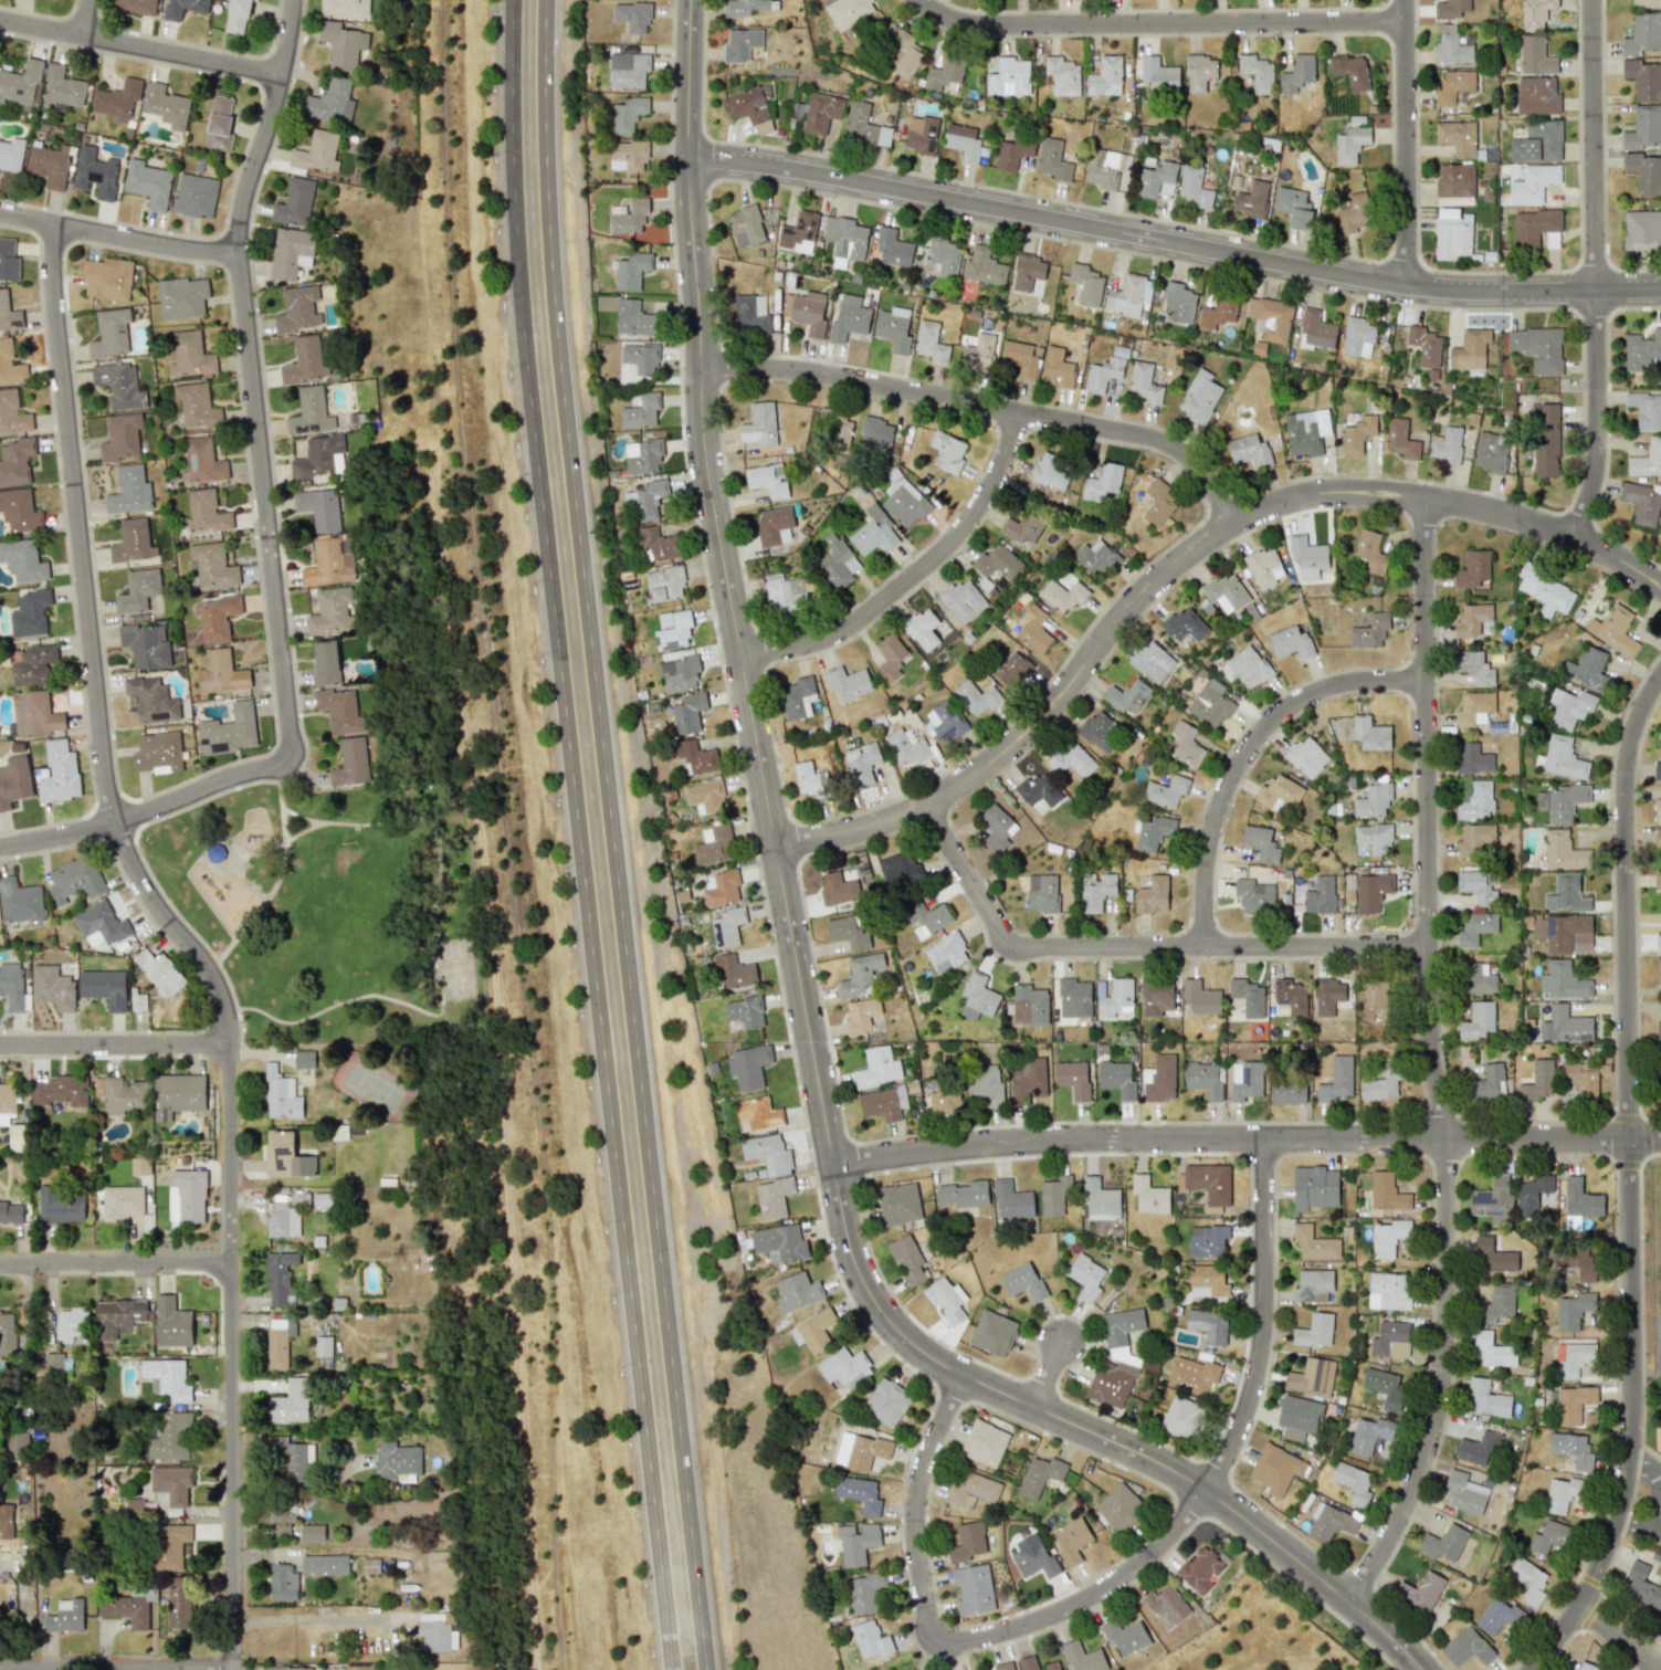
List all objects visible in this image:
building: (1647, 3)
building: (136, 6)
building: (345, 7)
building: (744, 7)
building: (183, 8)
building: (1451, 9)
building: (1536, 12)
building: (238, 15)
building: (632, 15)
road: (82, 18)
road: (1160, 22)
building: (1643, 33)
building: (341, 44)
building: (740, 44)
road: (139, 46)
building: (1451, 46)
building: (905, 55)
building: (1535, 55)
building: (1350, 71)
building: (630, 72)
building: (1199, 72)
building: (1257, 72)
building: (1297, 73)
building: (945, 74)
building: (1158, 74)
building: (1062, 75)
building: (1009, 77)
building: (1105, 77)
building: (1644, 80)
building: (21, 83)
building: (1454, 87)
building: (62, 88)
building: (1537, 95)
building: (117, 99)
building: (330, 101)
building: (165, 105)
building: (749, 108)
building: (821, 112)
building: (625, 115)
building: (219, 124)
building: (864, 126)
rooftop solar panel: (932, 128)
building: (1643, 128)
building: (921, 134)
building: (1457, 137)
building: (963, 141)
building: (1538, 141)
road: (1409, 143)
rooftop solar panel: (932, 144)
building: (1350, 144)
building: (317, 151)
building: (11, 154)
building: (628, 156)
building: (1053, 160)
building: (50, 165)
building: (1102, 168)
building: (96, 172)
building: (1644, 172)
building: (1155, 178)
building: (148, 183)
building: (1534, 183)
building: (1455, 185)
building: (1195, 187)
building: (195, 196)
building: (1252, 199)
building: (294, 202)
building: (1295, 206)
building: (1354, 213)
building: (630, 217)
building: (746, 225)
building: (1536, 229)
building: (1641, 230)
building: (799, 232)
road: (118, 233)
building: (1452, 233)
building: (845, 239)
road: (1174, 241)
building: (893, 248)
building: (291, 252)
building: (943, 258)
building: (8, 259)
building: (984, 266)
building: (631, 270)
road: (1595, 271)
building: (1028, 274)
building: (107, 277)
building: (1086, 284)
building: (1128, 295)
building: (182, 297)
building: (1179, 304)
building: (298, 308)
building: (806, 312)
building: (9, 313)
building: (1218, 313)
building: (849, 317)
building: (634, 318)
building: (1270, 318)
rooftop solar panel: (18, 323)
building: (893, 327)
building: (111, 333)
building: (1358, 337)
building: (931, 343)
building: (1425, 346)
building: (1538, 348)
building: (1470, 349)
building: (1641, 350)
building: (978, 351)
building: (190, 355)
building: (638, 358)
building: (1021, 358)
building: (305, 359)
building: (10, 364)
building: (1058, 368)
road: (250, 372)
building: (1103, 374)
building: (1144, 382)
building: (119, 385)
building: (1199, 397)
building: (197, 406)
road: (986, 407)
building: (1646, 409)
building: (640, 410)
building: (311, 412)
building: (12, 413)
building: (760, 424)
building: (1306, 431)
building: (840, 433)
building: (874, 433)
building: (1357, 434)
building: (120, 437)
building: (1400, 439)
building: (1547, 439)
building: (1447, 445)
building: (1250, 450)
building: (947, 451)
building: (1491, 452)
building: (642, 455)
building: (317, 456)
rooftop solar panel: (195, 460)
building: (1646, 460)
building: (15, 461)
building: (201, 461)
building: (1051, 471)
building: (767, 479)
building: (1103, 481)
building: (129, 490)
building: (645, 500)
building: (904, 502)
building: (1641, 502)
building: (1158, 503)
building: (319, 507)
building: (19, 511)
building: (206, 511)
building: (1022, 526)
building: (776, 528)
building: (874, 531)
building: (133, 540)
building: (655, 543)
building: (1368, 553)
building: (1307, 556)
building: (1095, 557)
building: (23, 560)
road: (1181, 560)
building: (838, 561)
building: (998, 563)
building: (328, 564)
building: (211, 565)
building: (1263, 568)
building: (1473, 570)
road: (912, 573)
building: (992, 581)
building: (665, 584)
building: (138, 590)
building: (1545, 590)
building: (785, 591)
building: (1224, 592)
building: (1063, 595)
road: (284, 598)
building: (961, 601)
building: (332, 611)
building: (30, 613)
building: (215, 618)
building: (1472, 619)
building: (1185, 623)
building: (925, 629)
building: (1033, 629)
building: (1615, 629)
building: (673, 630)
building: (1369, 631)
rooftop solar panel: (660, 641)
rooftop solar panel: (673, 642)
building: (1291, 642)
building: (146, 644)
building: (890, 657)
building: (1153, 661)
building: (326, 662)
building: (32, 664)
building: (1474, 665)
building: (1248, 666)
building: (1011, 668)
building: (1589, 669)
building: (220, 672)
building: (679, 673)
building: (849, 683)
building: (796, 696)
building: (1127, 696)
building: (976, 697)
building: (151, 700)
building: (1210, 703)
building: (1474, 707)
building: (1570, 707)
building: (339, 708)
building: (687, 712)
building: (34, 714)
rooftop solar panel: (160, 714)
building: (944, 723)
building: (229, 729)
building: (1098, 729)
building: (1370, 734)
building: (1186, 744)
building: (907, 746)
road: (1248, 749)
building: (696, 756)
building: (1306, 756)
building: (1563, 757)
building: (1473, 758)
building: (1072, 759)
building: (350, 763)
building: (863, 764)
building: (1658, 767)
building: (59, 773)
building: (14, 780)
building: (813, 780)
building: (1040, 789)
building: (1166, 791)
building: (1279, 791)
road: (280, 797)
building: (704, 797)
building: (1373, 799)
building: (1476, 801)
building: (1562, 802)
road: (147, 809)
building: (1657, 810)
building: (998, 827)
building: (1153, 832)
railway: (507, 834)
road: (578, 836)
road: (611, 836)
building: (1657, 837)
building: (1374, 838)
building: (1474, 840)
building: (1260, 843)
building: (713, 844)
building: (1563, 850)
road: (189, 868)
building: (898, 870)
building: (1657, 879)
building: (74, 880)
building: (1478, 885)
building: (721, 887)
building: (838, 887)
building: (1096, 890)
building: (1371, 891)
building: (1041, 892)
building: (1566, 894)
building: (1153, 895)
building: (1254, 895)
building: (1320, 895)
building: (20, 901)
park: (332, 907)
building: (926, 918)
building: (101, 924)
rooftop solar panel: (1553, 924)
building: (727, 926)
building: (1475, 927)
building: (849, 931)
building: (1564, 933)
road: (188, 938)
building: (1659, 943)
road: (1136, 946)
road: (221, 953)
building: (946, 953)
road: (437, 955)
building: (1658, 966)
building: (160, 971)
building: (734, 971)
building: (860, 975)
building: (1478, 978)
building: (1563, 981)
building: (14, 987)
building: (52, 987)
building: (104, 987)
road: (798, 987)
building: (1291, 995)
building: (978, 997)
building: (1156, 997)
building: (1200, 997)
building: (1248, 997)
building: (1327, 997)
building: (1074, 998)
building: (1116, 1000)
building: (1374, 1000)
building: (139, 1001)
building: (1029, 1005)
building: (745, 1011)
building: (861, 1015)
building: (1478, 1020)
building: (1565, 1025)
building: (1658, 1030)
road: (116, 1042)
building: (304, 1059)
road: (1430, 1062)
building: (748, 1065)
building: (877, 1067)
rooftop solar panel: (1245, 1074)
building: (1029, 1078)
building: (1073, 1078)
building: (1116, 1078)
building: (1159, 1079)
building: (1203, 1079)
building: (1583, 1079)
building: (1245, 1080)
building: (1336, 1080)
building: (1537, 1081)
building: (1489, 1083)
building: (984, 1084)
building: (1379, 1085)
building: (60, 1091)
building: (1287, 1092)
building: (1659, 1092)
building: (122, 1094)
building: (178, 1094)
building: (281, 1095)
building: (8, 1097)
building: (883, 1103)
building: (757, 1113)
road: (807, 1133)
building: (18, 1136)
road: (1244, 1138)
building: (767, 1153)
rooftop solar panel: (281, 1156)
building: (285, 1156)
building: (139, 1165)
building: (1207, 1181)
road: (1633, 1184)
building: (1315, 1187)
building: (1386, 1191)
building: (964, 1194)
building: (1149, 1195)
building: (1532, 1195)
building: (187, 1196)
building: (1053, 1196)
building: (772, 1197)
building: (322, 1198)
building: (1100, 1199)
building: (1494, 1199)
building: (1011, 1200)
building: (122, 1202)
building: (898, 1204)
building: (61, 1206)
building: (10, 1212)
building: (282, 1221)
building: (1388, 1237)
building: (1207, 1240)
building: (779, 1243)
building: (1314, 1243)
building: (1493, 1256)
building: (906, 1259)
road: (116, 1262)
building: (1575, 1262)
building: (1086, 1277)
building: (280, 1278)
building: (1207, 1280)
building: (1023, 1281)
building: (1313, 1285)
building: (1388, 1291)
building: (797, 1292)
building: (947, 1299)
building: (1499, 1304)
building: (1574, 1310)
building: (117, 1315)
road: (1268, 1320)
building: (171, 1322)
building: (71, 1325)
building: (1121, 1325)
building: (1208, 1325)
building: (817, 1330)
building: (8, 1331)
building: (1314, 1331)
building: (994, 1333)
building: (1390, 1340)
building: (278, 1342)
building: (323, 1346)
building: (1494, 1348)
building: (1578, 1362)
building: (53, 1363)
building: (844, 1367)
road: (1044, 1372)
building: (1192, 1375)
building: (1312, 1377)
building: (167, 1378)
building: (1112, 1383)
building: (1385, 1386)
building: (1487, 1398)
building: (291, 1401)
building: (887, 1401)
building: (1573, 1404)
building: (1181, 1417)
building: (1299, 1417)
building: (1369, 1435)
building: (171, 1438)
building: (984, 1442)
building: (17, 1446)
building: (1478, 1446)
building: (858, 1449)
building: (1573, 1449)
building: (290, 1457)
building: (396, 1460)
building: (1275, 1469)
building: (1040, 1475)
building: (1353, 1483)
road: (295, 1484)
building: (170, 1485)
building: (971, 1489)
building: (860, 1493)
building: (1465, 1493)
building: (1560, 1494)
building: (129, 1506)
building: (1119, 1506)
building: (282, 1514)
road: (1641, 1520)
building: (6, 1521)
building: (1331, 1523)
rooftop solar panel: (1541, 1530)
building: (312, 1532)
building: (1548, 1536)
building: (968, 1541)
building: (1071, 1541)
building: (856, 1542)
building: (1444, 1542)
building: (169, 1545)
building: (1033, 1557)
building: (324, 1564)
building: (371, 1566)
building: (1200, 1569)
building: (282, 1580)
building: (1527, 1580)
building: (1642, 1586)
building: (973, 1588)
building: (1420, 1590)
building: (864, 1593)
building: (180, 1603)
building: (1166, 1604)
road: (21, 1605)
building: (125, 1609)
building: (65, 1616)
building: (1500, 1616)
road: (311, 1618)
building: (437, 1632)
road: (1619, 1635)
building: (1125, 1636)
road: (958, 1639)
building: (870, 1640)
building: (1468, 1647)
building: (1082, 1657)
building: (1036, 1663)
building: (1003, 1666)
building: (1586, 1666)
road: (117, 1668)
building: (288, 1668)

